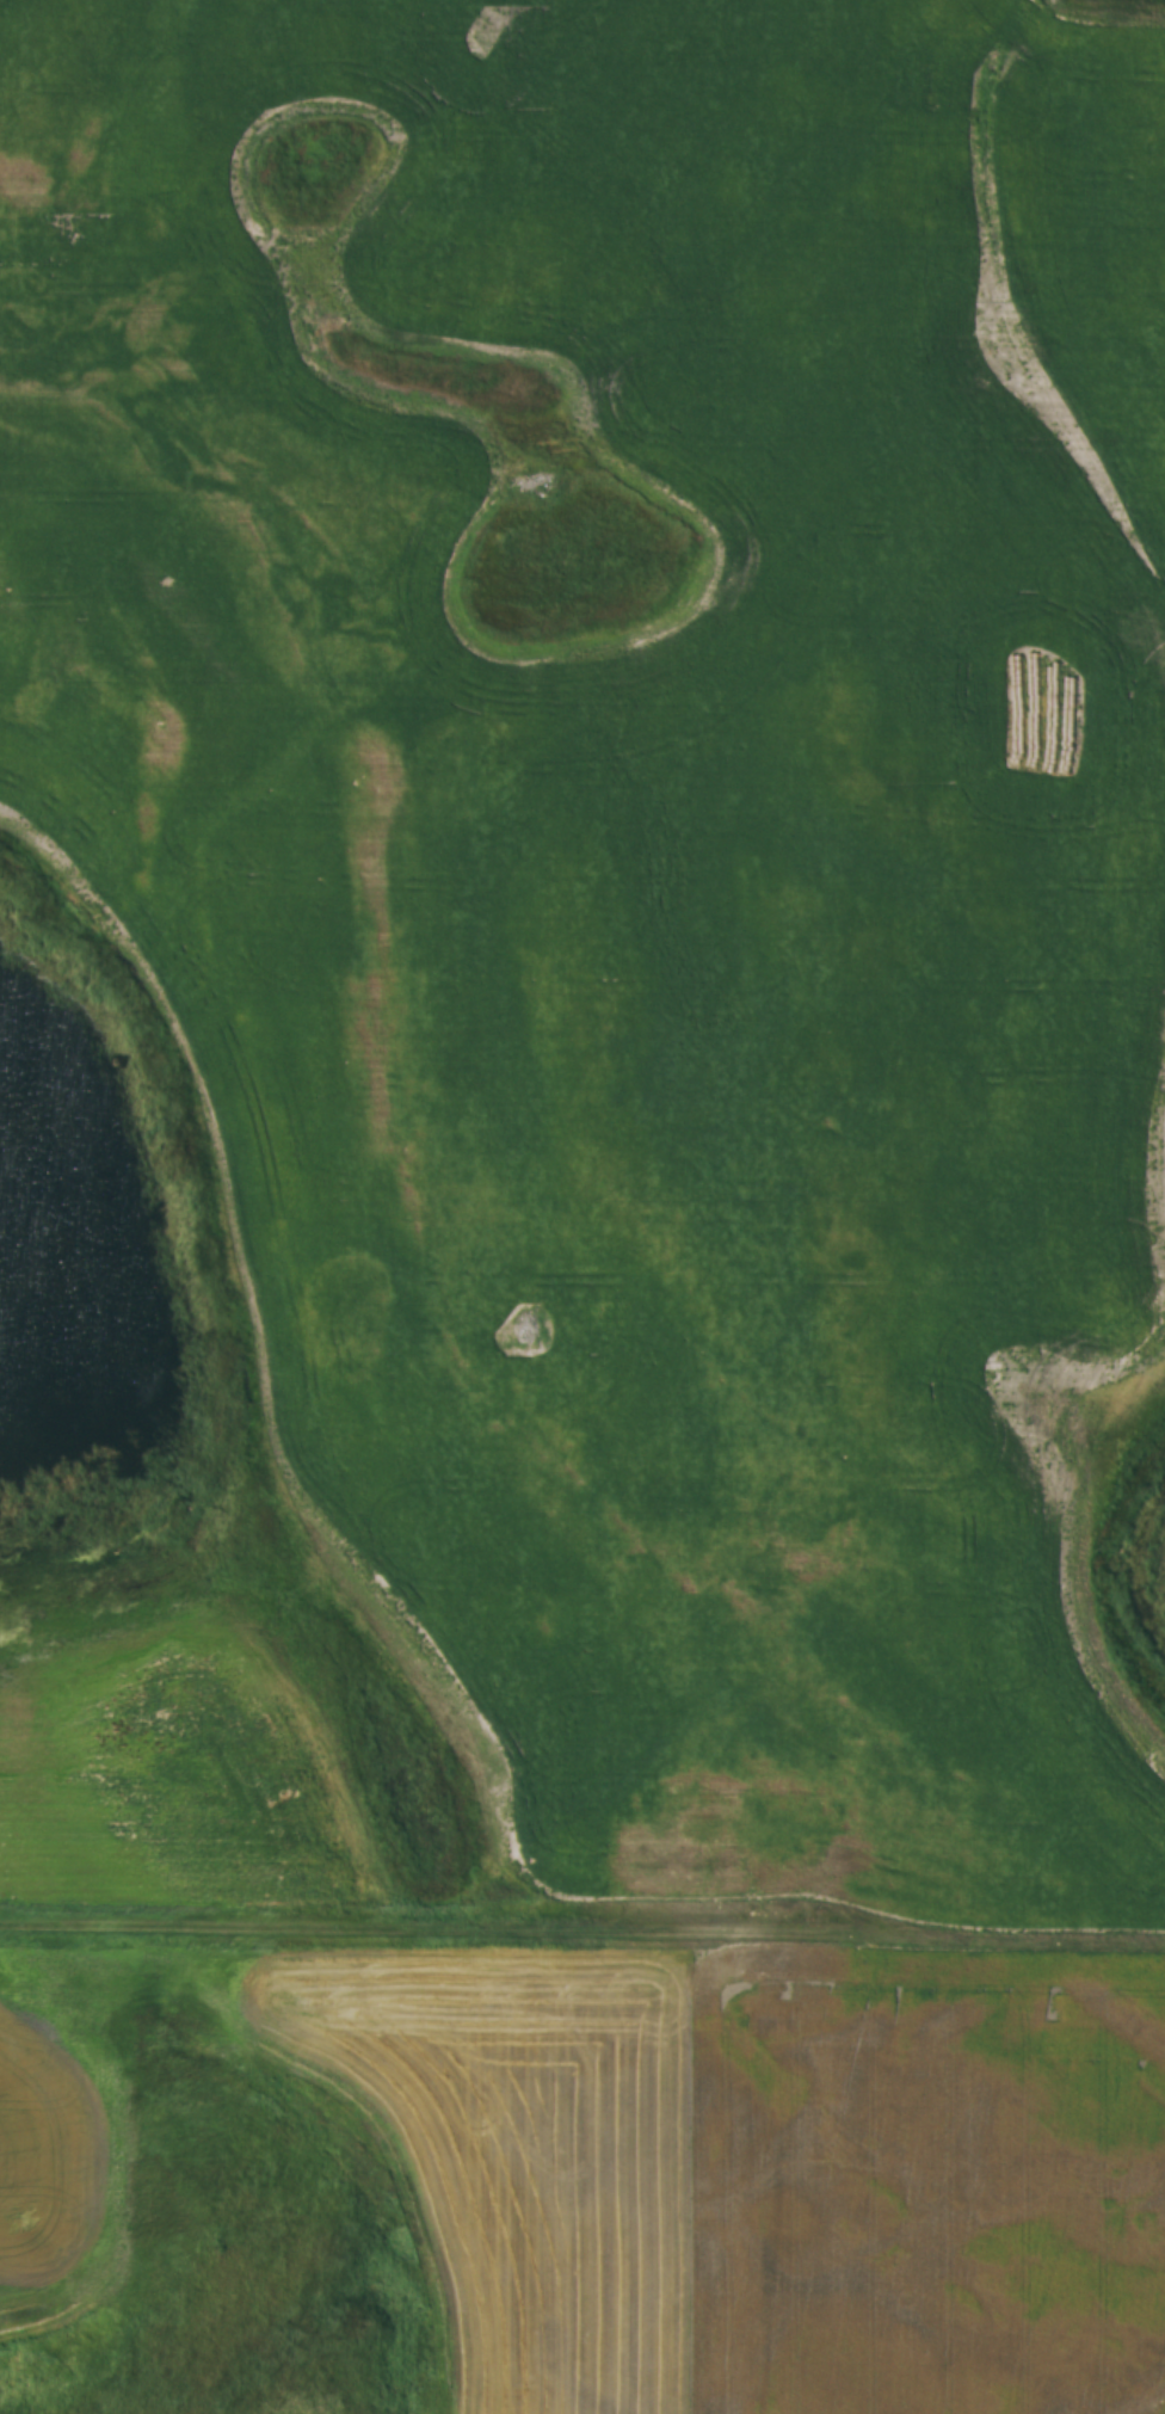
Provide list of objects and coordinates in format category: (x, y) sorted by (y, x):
road: (582, 1934)

